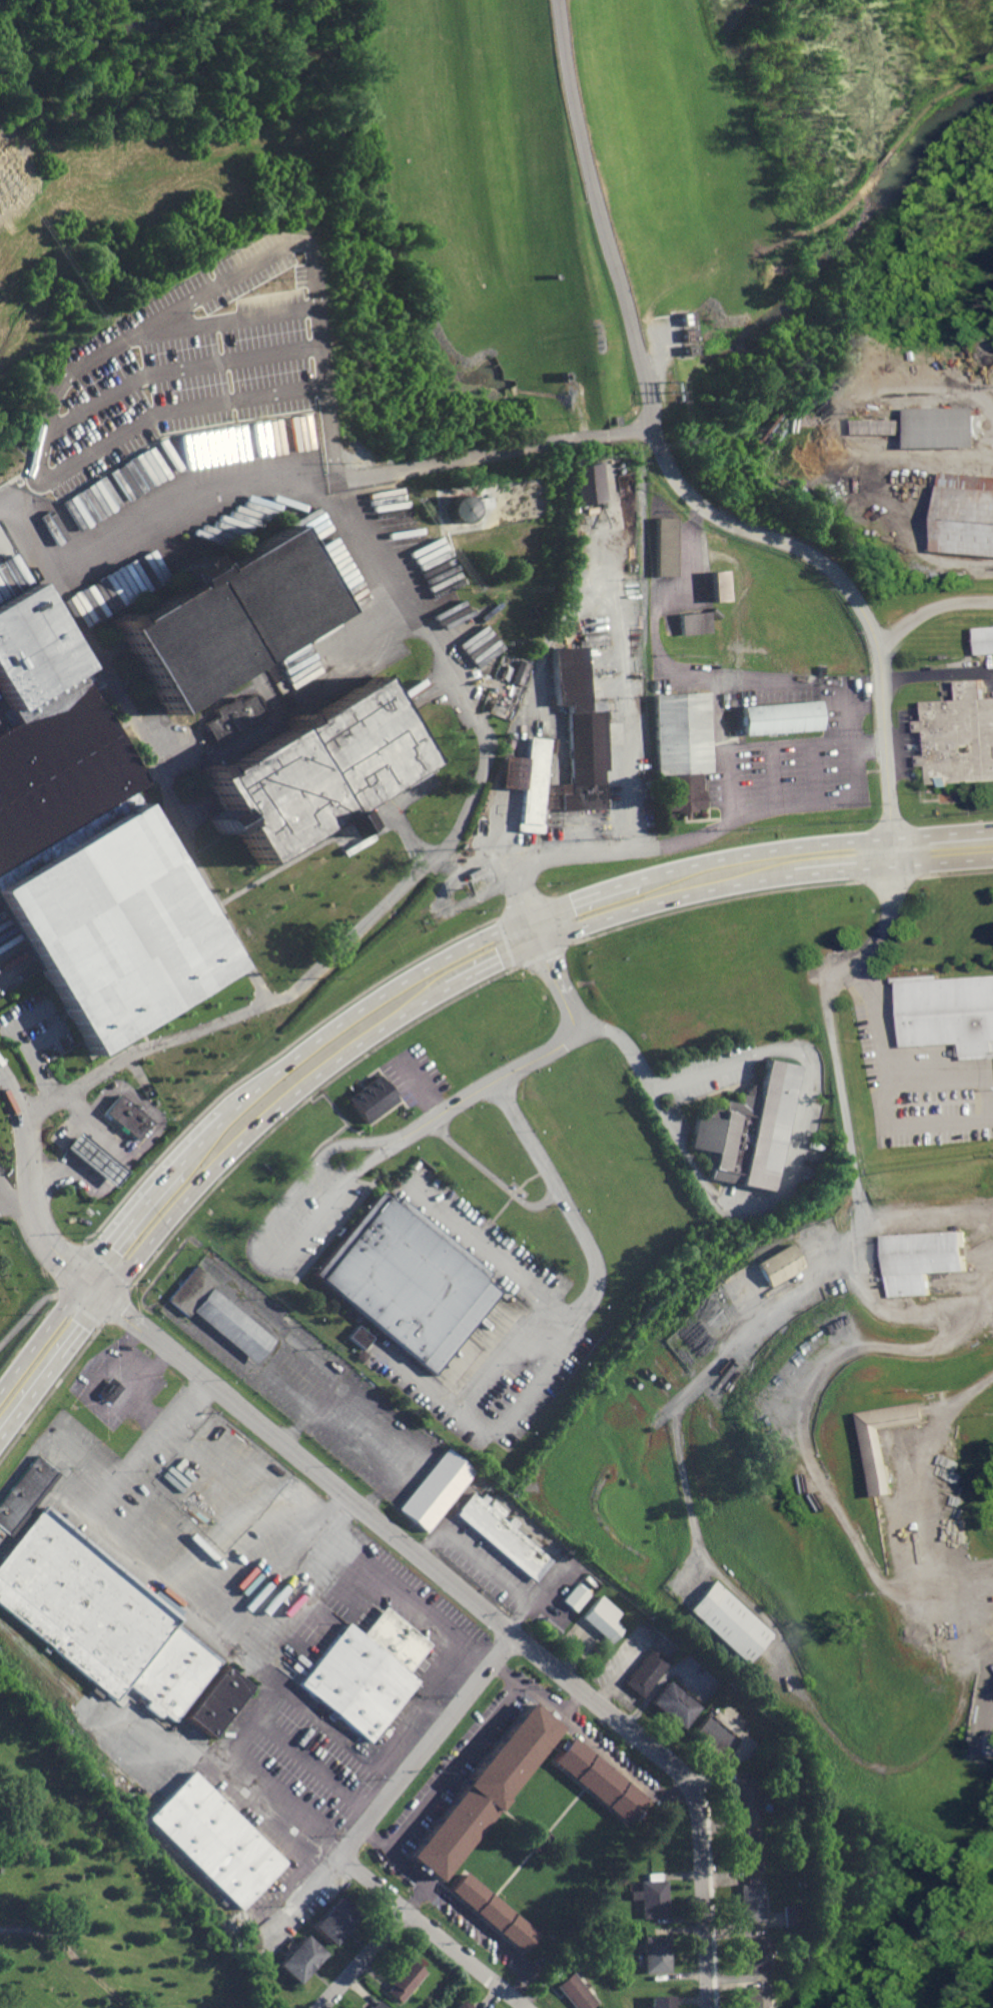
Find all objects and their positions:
road: (935, 101)
road: (881, 158)
road: (836, 214)
road: (202, 287)
street lamp: (216, 302)
building: (681, 318)
building: (684, 334)
building: (685, 350)
street lamp: (131, 354)
road: (165, 359)
street lamp: (243, 382)
road: (168, 404)
street lamp: (174, 426)
building: (883, 426)
building: (944, 427)
road: (172, 450)
parking lot: (220, 454)
street lamp: (102, 467)
street lamp: (303, 469)
road: (675, 476)
road: (11, 478)
building: (619, 481)
building: (584, 483)
street lamp: (157, 494)
road: (186, 494)
building: (460, 508)
storage tank: (460, 508)
building: (964, 513)
road: (198, 538)
building: (661, 546)
road: (324, 549)
building: (199, 563)
building: (184, 570)
building: (716, 586)
building: (265, 593)
building: (532, 611)
road: (928, 612)
building: (690, 622)
building: (986, 640)
building: (180, 643)
road: (330, 643)
road: (652, 649)
building: (519, 669)
road: (936, 675)
road: (618, 679)
road: (714, 714)
building: (232, 715)
building: (776, 716)
building: (578, 732)
road: (482, 733)
building: (961, 737)
building: (353, 744)
road: (748, 744)
building: (680, 747)
road: (150, 748)
road: (869, 748)
road: (813, 771)
road: (771, 775)
parking lot: (785, 776)
building: (527, 779)
flagpole: (180, 790)
building: (269, 795)
building: (217, 821)
building: (337, 824)
road: (732, 824)
building: (88, 852)
road: (780, 890)
road: (521, 965)
road: (419, 973)
road: (560, 975)
road: (416, 1009)
building: (948, 1012)
road: (30, 1014)
parking lot: (36, 1027)
road: (44, 1037)
road: (628, 1053)
road: (270, 1056)
road: (33, 1061)
parking lot: (710, 1070)
parking lot: (417, 1071)
road: (979, 1074)
road: (422, 1087)
parking lot: (919, 1089)
building: (373, 1094)
road: (840, 1099)
road: (303, 1101)
road: (332, 1107)
building: (126, 1112)
building: (749, 1131)
road: (322, 1139)
road: (796, 1139)
road: (24, 1142)
building: (94, 1158)
gas station: (94, 1158)
road: (490, 1175)
road: (342, 1187)
road: (4, 1193)
parking lot: (307, 1209)
road: (39, 1232)
road: (492, 1247)
building: (924, 1259)
building: (777, 1264)
building: (412, 1274)
road: (125, 1281)
road: (882, 1305)
building: (220, 1315)
road: (27, 1317)
parking lot: (559, 1319)
road: (576, 1323)
building: (358, 1336)
building: (109, 1389)
road: (51, 1391)
road: (682, 1404)
parking lot: (338, 1408)
building: (878, 1460)
building: (435, 1489)
building: (24, 1492)
road: (341, 1518)
building: (16, 1524)
road: (851, 1534)
building: (503, 1537)
road: (336, 1538)
parking lot: (479, 1561)
road: (486, 1564)
road: (967, 1576)
building: (576, 1596)
road: (296, 1602)
road: (474, 1602)
parking lot: (272, 1604)
road: (979, 1610)
building: (100, 1618)
road: (198, 1618)
building: (604, 1618)
building: (731, 1621)
building: (366, 1671)
building: (647, 1672)
road: (511, 1674)
building: (214, 1700)
road: (571, 1703)
building: (675, 1704)
building: (714, 1737)
road: (315, 1764)
road: (451, 1767)
road: (625, 1770)
road: (401, 1779)
building: (597, 1779)
building: (483, 1791)
building: (746, 1797)
road: (374, 1837)
building: (541, 1837)
building: (213, 1840)
building: (749, 1850)
building: (650, 1897)
road: (416, 1898)
building: (751, 1899)
building: (492, 1912)
building: (790, 1915)
building: (334, 1919)
road: (496, 1941)
building: (655, 1953)
building: (754, 1953)
road: (70, 1954)
building: (299, 1958)
road: (361, 1959)
road: (463, 1959)
building: (404, 1980)
building: (574, 1992)
building: (756, 1996)
building: (659, 2001)
building: (376, 2004)
building: (460, 2004)

